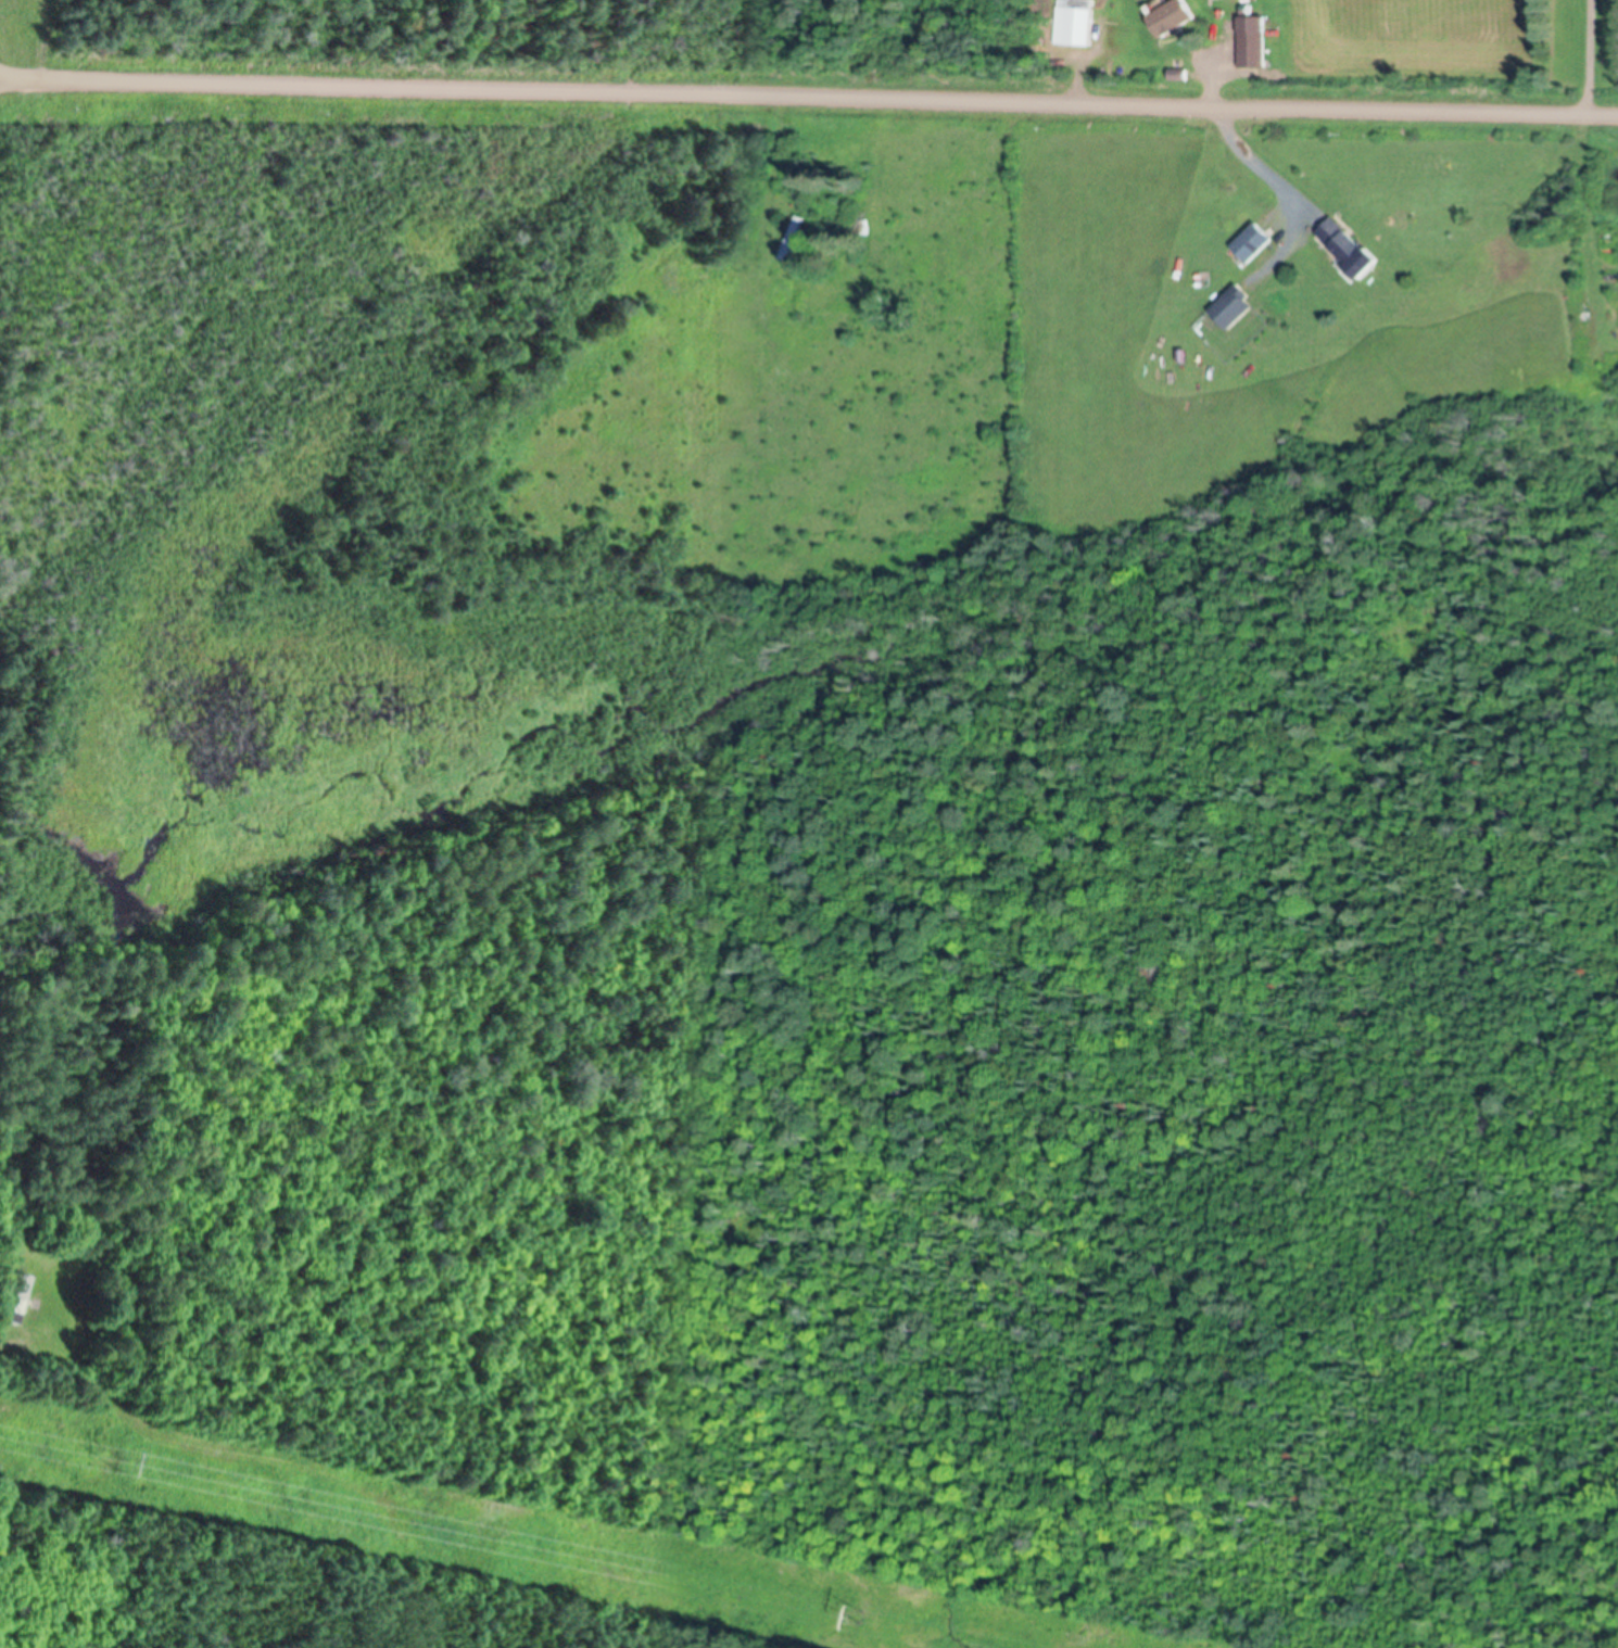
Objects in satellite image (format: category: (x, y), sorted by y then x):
building: (1175, 18)
building: (1073, 24)
building: (1252, 51)
road: (808, 100)
building: (793, 240)
building: (1254, 244)
building: (1351, 249)
building: (1234, 309)
building: (22, 1302)

